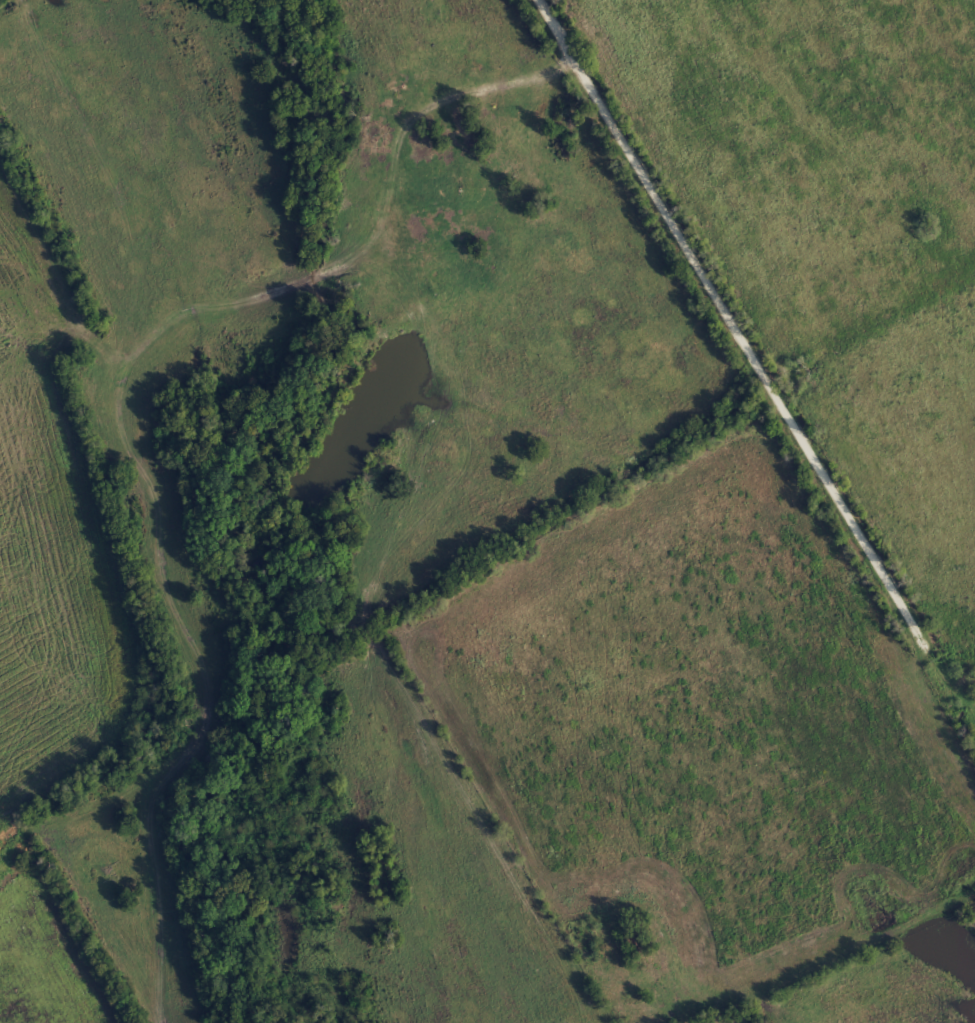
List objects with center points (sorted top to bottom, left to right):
road: (753, 346)

